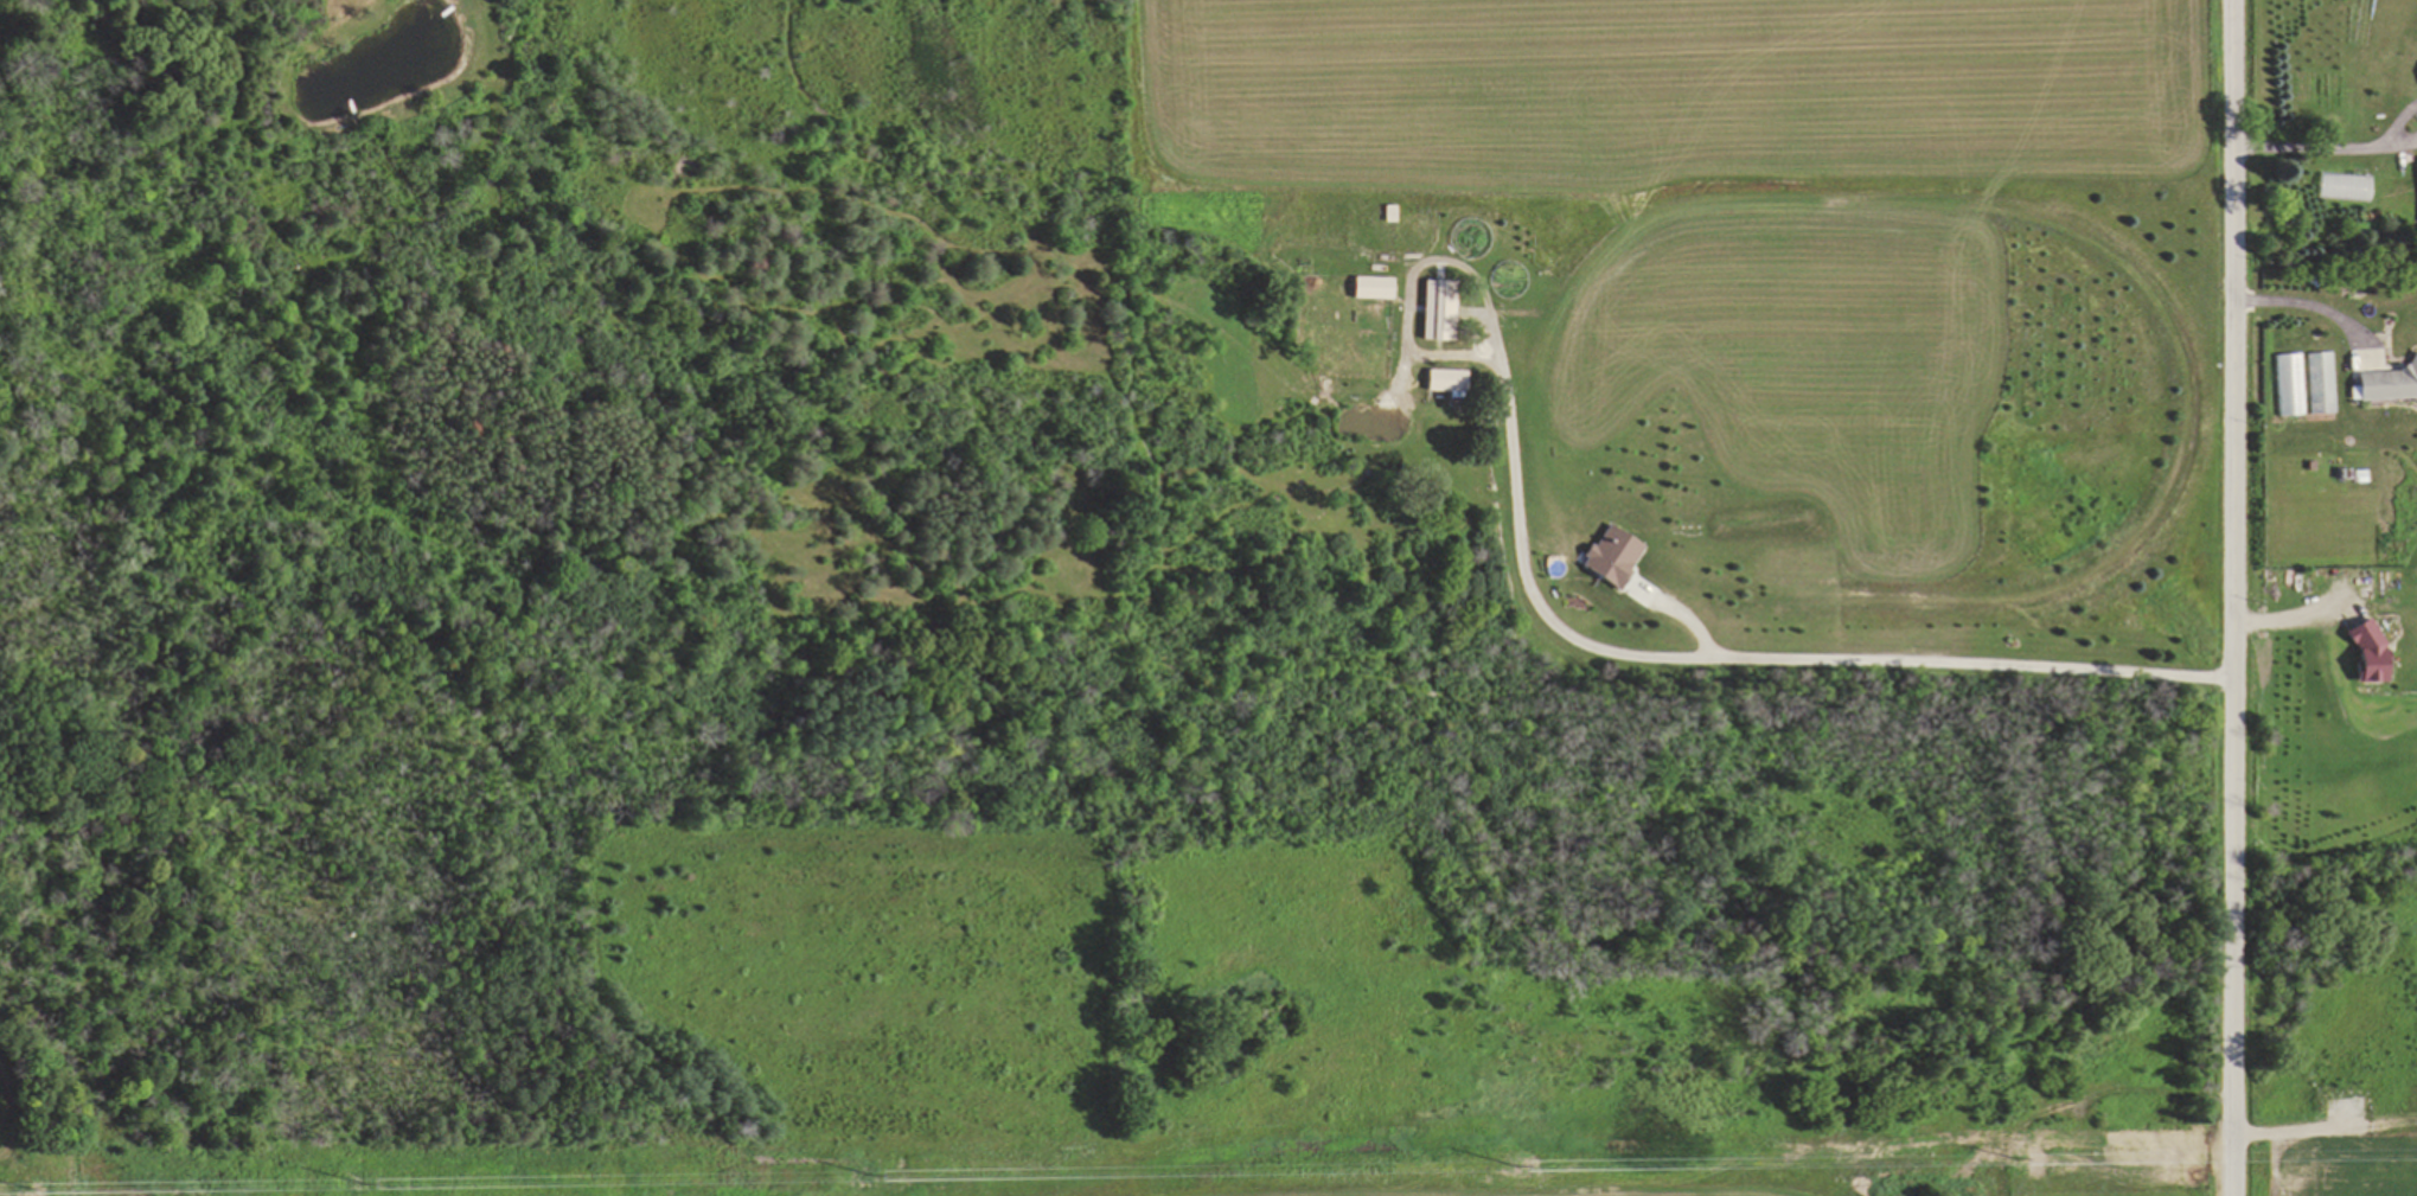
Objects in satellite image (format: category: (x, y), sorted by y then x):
road: (2398, 123)
road: (2400, 143)
road: (2310, 145)
building: (1371, 286)
building: (1438, 309)
building: (1445, 380)
building: (2387, 384)
road: (2236, 597)
building: (2364, 650)
road: (1708, 659)

